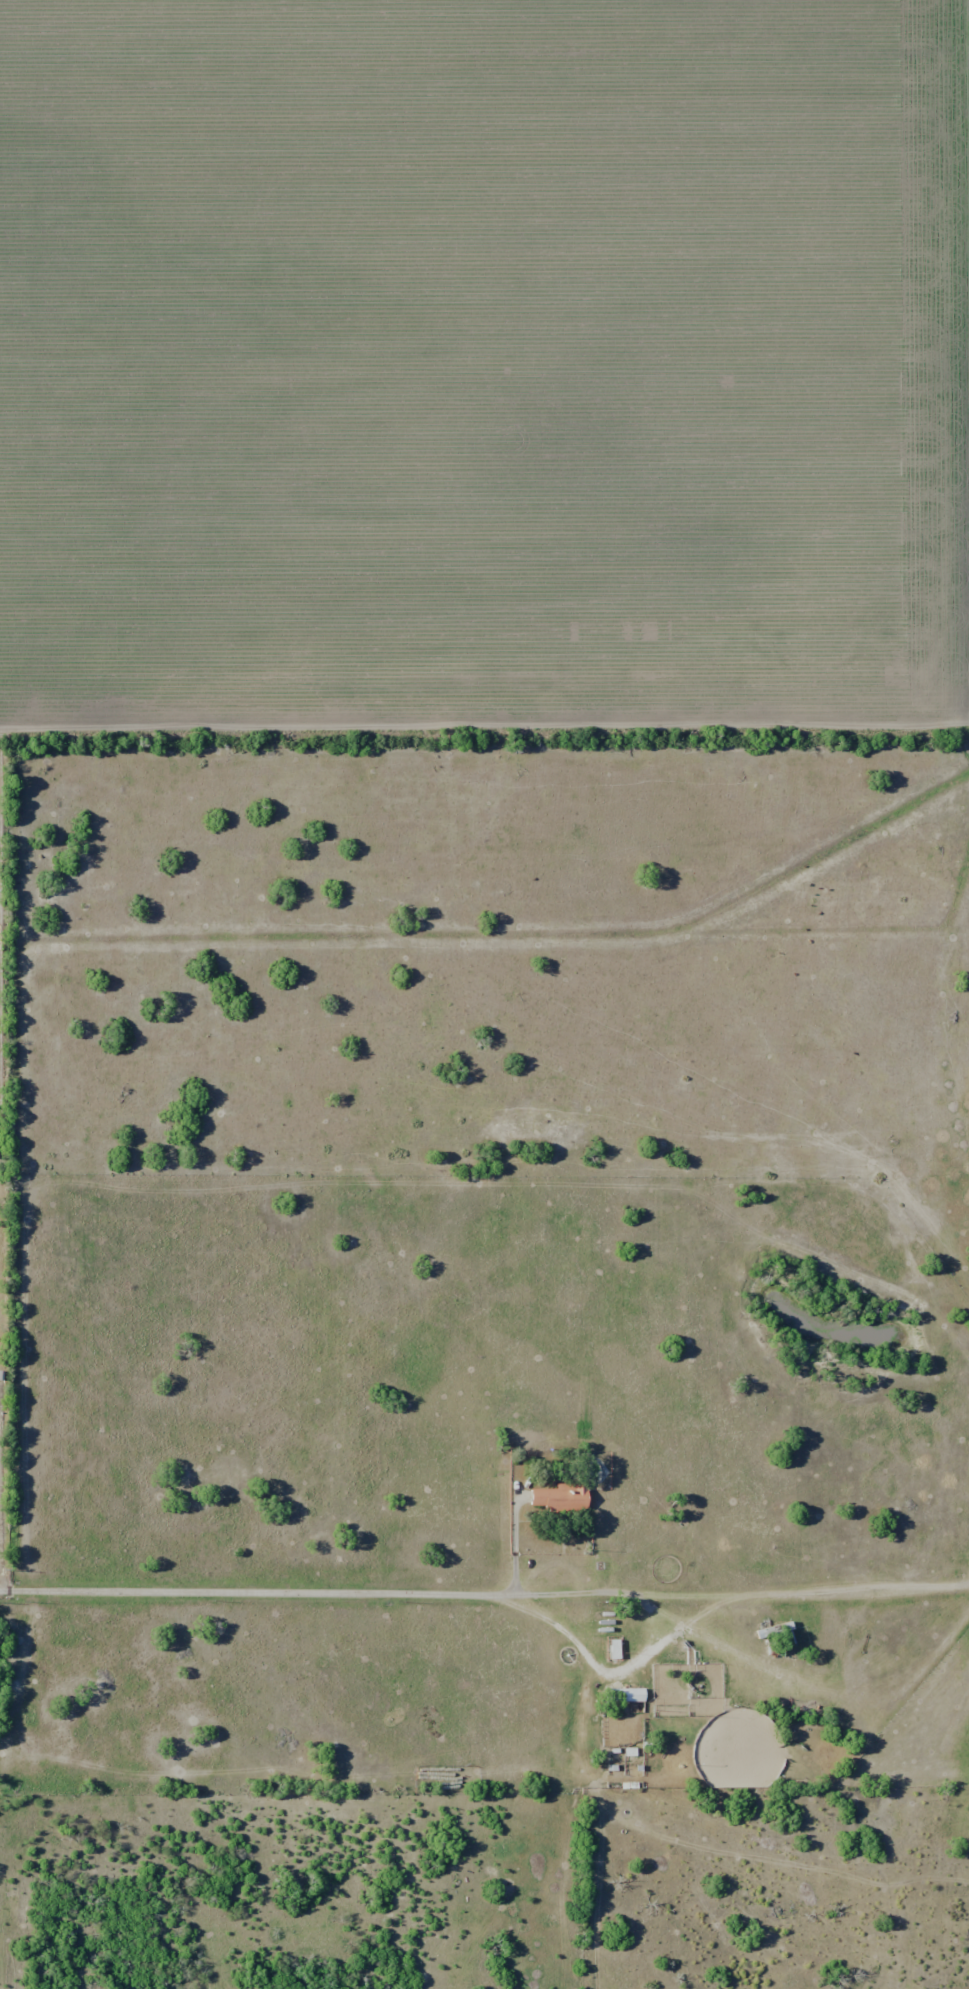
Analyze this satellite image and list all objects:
building: (555, 1496)
road: (9, 1586)
road: (284, 1588)
building: (774, 1632)
building: (611, 1647)
building: (623, 1693)

